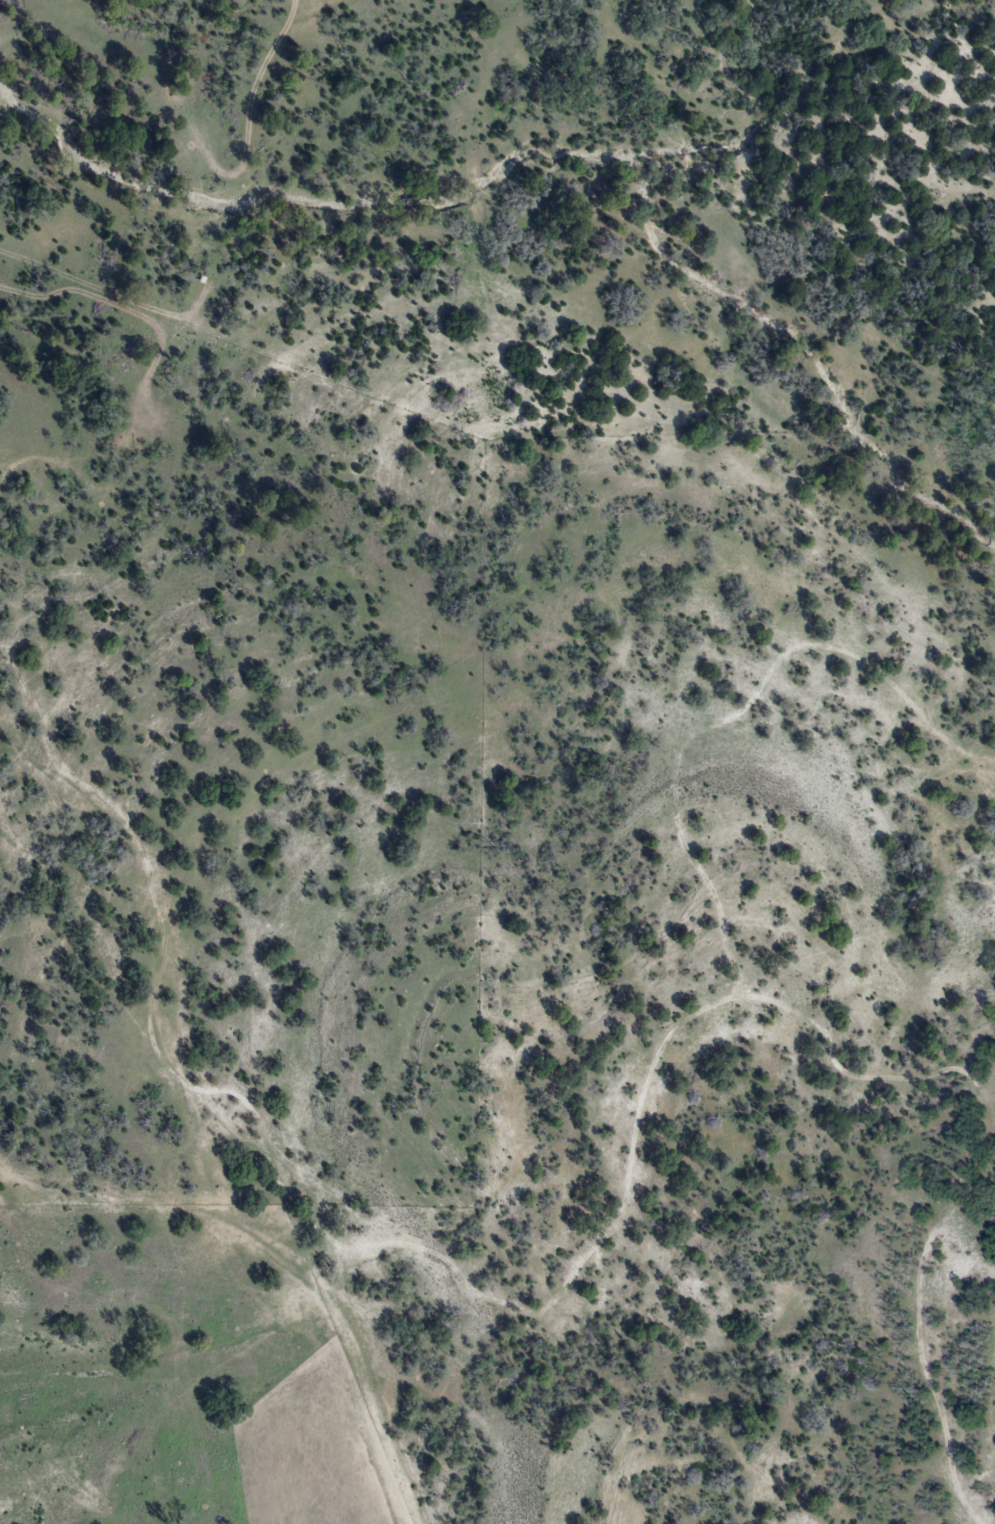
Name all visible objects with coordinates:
road: (275, 1270)
road: (53, 1465)

